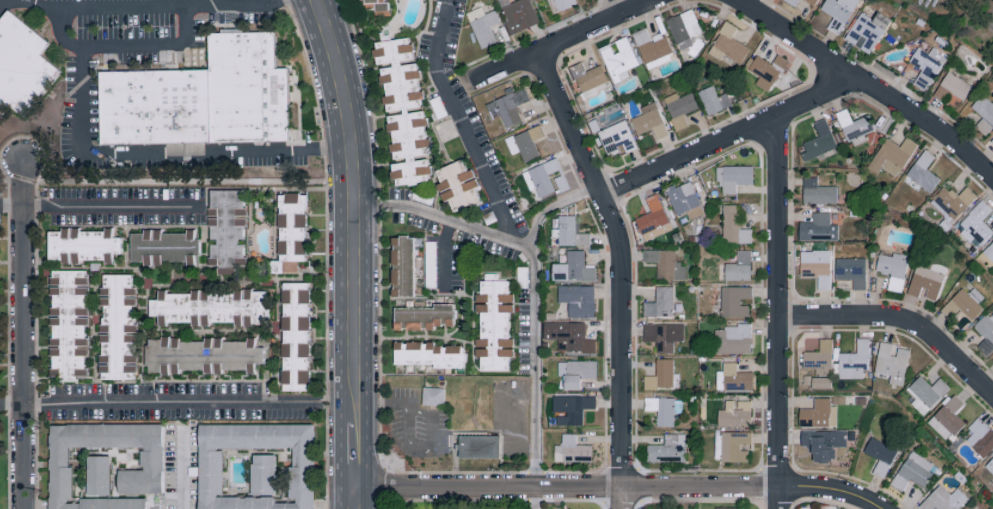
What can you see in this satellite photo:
road: (1, 1)
building: (812, 1)
building: (792, 2)
building: (377, 4)
building: (564, 4)
road: (247, 5)
road: (113, 6)
road: (620, 7)
building: (838, 12)
building: (519, 15)
building: (483, 26)
building: (683, 28)
building: (867, 31)
building: (652, 41)
road: (562, 42)
building: (728, 44)
road: (126, 46)
building: (618, 59)
building: (924, 66)
building: (767, 70)
building: (24, 71)
road: (867, 84)
building: (713, 100)
building: (205, 104)
building: (508, 106)
building: (679, 108)
building: (403, 111)
building: (983, 114)
building: (649, 121)
road: (460, 123)
building: (855, 127)
road: (730, 136)
building: (992, 140)
building: (819, 141)
road: (163, 155)
building: (892, 156)
building: (922, 173)
building: (733, 177)
building: (541, 178)
building: (561, 181)
building: (457, 185)
building: (817, 192)
road: (357, 197)
building: (684, 200)
building: (952, 202)
road: (101, 205)
road: (553, 209)
building: (652, 215)
building: (975, 225)
building: (225, 227)
building: (734, 227)
building: (818, 228)
building: (290, 232)
building: (569, 232)
building: (82, 245)
building: (163, 247)
building: (989, 251)
road: (443, 253)
building: (665, 264)
building: (402, 266)
building: (739, 267)
building: (816, 267)
building: (573, 268)
building: (893, 269)
building: (852, 271)
road: (622, 272)
road: (535, 280)
building: (927, 280)
building: (577, 299)
building: (734, 301)
building: (967, 302)
building: (660, 303)
building: (211, 306)
road: (778, 312)
building: (425, 316)
road: (901, 318)
building: (67, 324)
building: (494, 325)
building: (116, 327)
building: (986, 331)
road: (23, 334)
building: (663, 335)
building: (294, 336)
building: (569, 336)
building: (733, 340)
building: (427, 354)
building: (201, 355)
building: (820, 357)
building: (855, 361)
building: (891, 363)
building: (576, 372)
building: (662, 376)
building: (733, 378)
building: (821, 382)
building: (926, 393)
building: (432, 396)
road: (178, 402)
road: (385, 402)
building: (571, 408)
road: (508, 409)
building: (663, 409)
building: (735, 414)
building: (819, 414)
road: (436, 416)
building: (948, 418)
building: (980, 438)
building: (824, 443)
road: (406, 445)
building: (478, 446)
building: (732, 446)
building: (668, 449)
building: (572, 450)
building: (878, 454)
road: (357, 455)
building: (150, 457)
road: (182, 465)
building: (990, 465)
building: (255, 466)
building: (913, 471)
building: (97, 475)
road: (568, 489)
road: (832, 490)
road: (535, 499)
building: (943, 499)
building: (720, 508)

